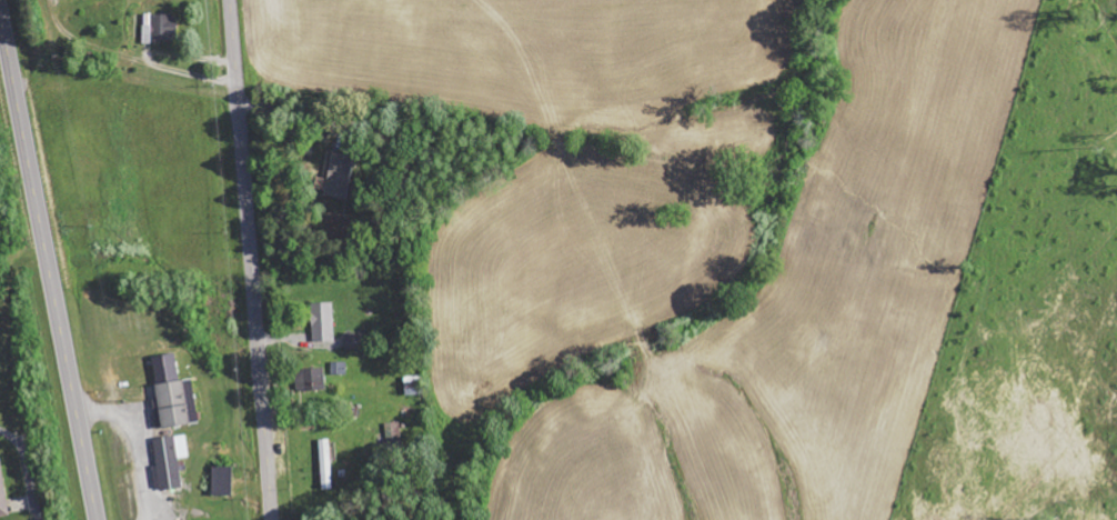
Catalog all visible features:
building: (160, 28)
road: (451, 118)
building: (340, 176)
road: (252, 259)
road: (48, 264)
building: (323, 321)
building: (355, 340)
building: (339, 368)
building: (311, 378)
building: (170, 392)
building: (170, 461)
building: (325, 463)
building: (223, 480)
building: (2, 493)

